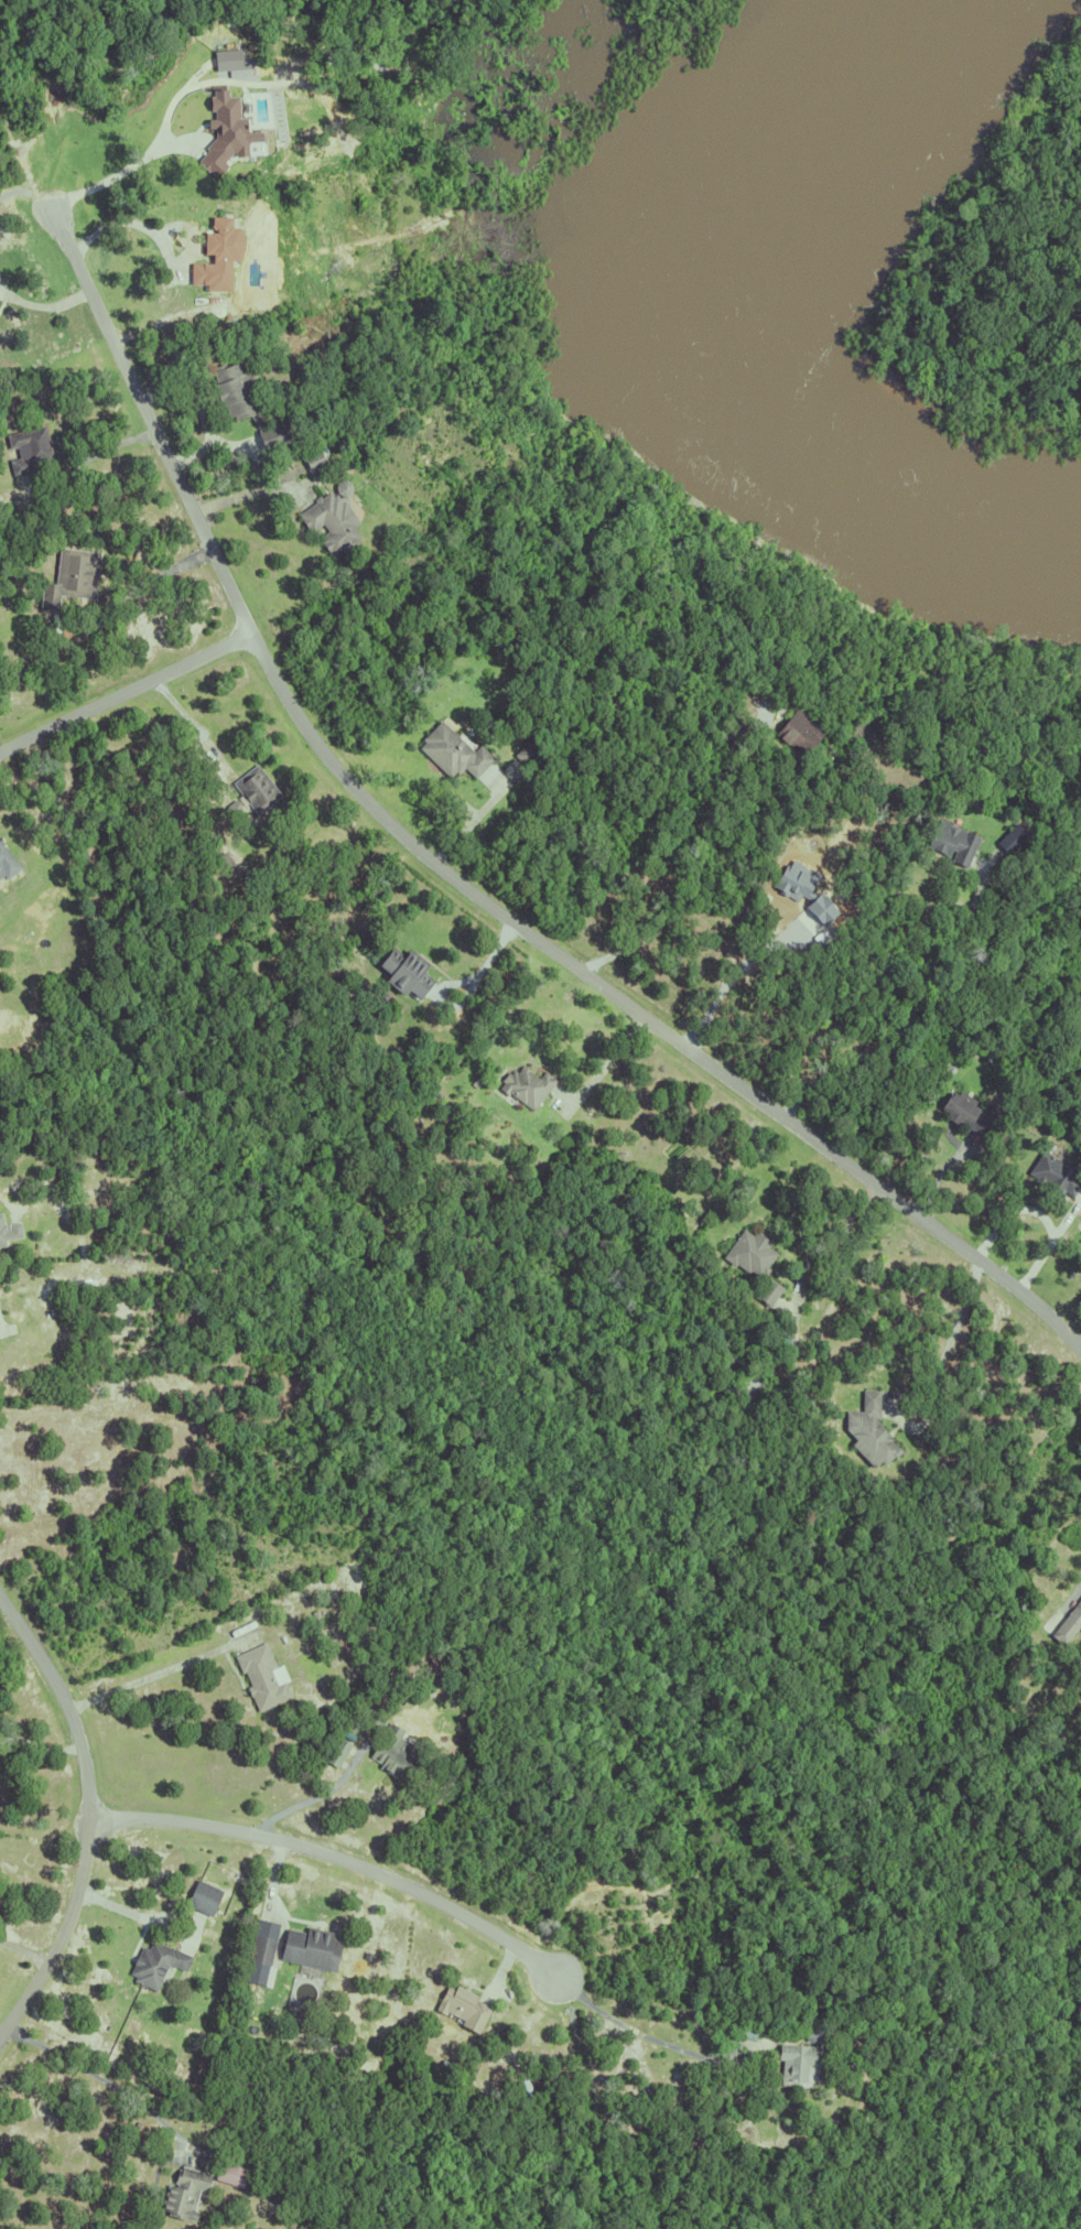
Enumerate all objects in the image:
building: (225, 61)
building: (221, 132)
road: (115, 175)
road: (129, 215)
building: (214, 257)
road: (3, 290)
road: (3, 296)
road: (47, 306)
building: (229, 392)
road: (132, 403)
building: (383, 429)
building: (262, 440)
building: (28, 448)
road: (87, 459)
building: (340, 487)
road: (237, 496)
building: (332, 523)
building: (71, 577)
building: (52, 624)
road: (123, 693)
road: (191, 721)
building: (729, 729)
building: (799, 732)
building: (451, 753)
building: (526, 754)
building: (256, 789)
road: (469, 815)
building: (952, 843)
building: (225, 859)
building: (7, 863)
building: (893, 891)
building: (902, 913)
building: (401, 974)
road: (915, 1010)
road: (639, 1013)
road: (599, 1057)
building: (478, 1079)
building: (525, 1086)
building: (958, 1101)
building: (961, 1115)
building: (982, 1121)
building: (1053, 1171)
road: (1038, 1210)
road: (835, 1232)
building: (10, 1233)
building: (749, 1248)
building: (767, 1287)
road: (1, 1324)
road: (948, 1334)
building: (722, 1339)
building: (728, 1356)
building: (867, 1426)
road: (1075, 1587)
building: (1068, 1619)
building: (274, 1645)
road: (156, 1671)
building: (261, 1674)
road: (39, 1745)
building: (335, 1749)
building: (391, 1749)
road: (296, 1804)
road: (93, 1818)
road: (335, 1875)
building: (201, 1898)
road: (161, 1929)
building: (309, 1945)
building: (260, 1946)
road: (25, 1950)
building: (153, 1965)
building: (462, 2004)
building: (788, 2021)
building: (813, 2032)
building: (726, 2039)
road: (661, 2041)
building: (794, 2058)
road: (107, 2080)
building: (228, 2171)
building: (182, 2190)

